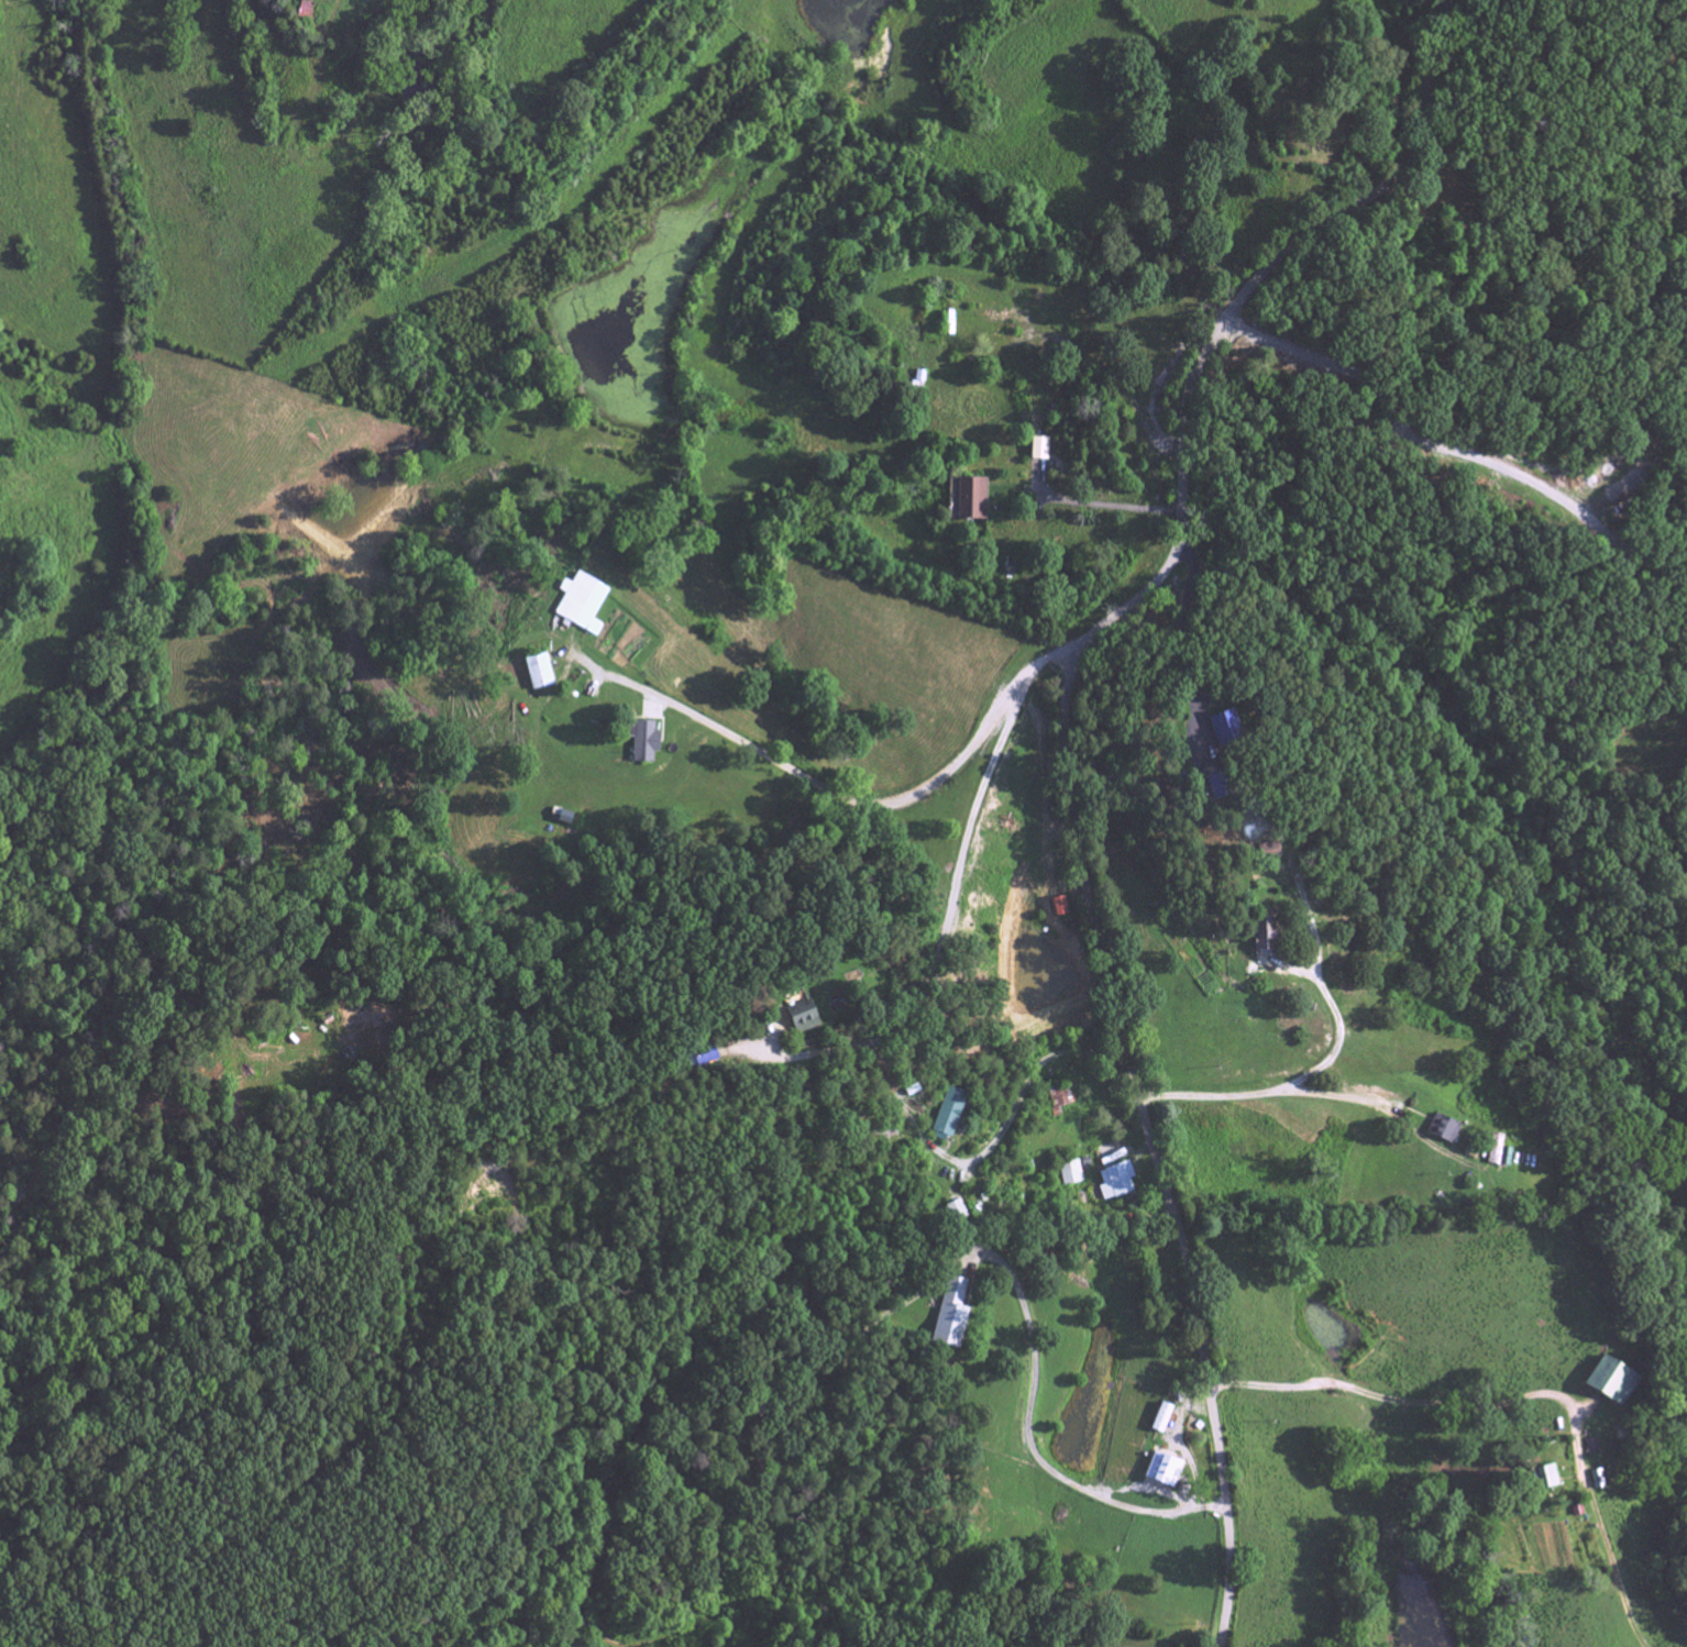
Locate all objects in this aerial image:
building: (1041, 451)
road: (1453, 452)
road: (1113, 493)
building: (970, 501)
building: (581, 608)
road: (1176, 631)
building: (1212, 723)
building: (643, 743)
road: (1069, 762)
road: (875, 805)
road: (945, 884)
building: (1057, 908)
building: (1260, 937)
building: (794, 1020)
road: (1336, 1025)
building: (696, 1061)
road: (1259, 1092)
building: (1062, 1102)
building: (950, 1114)
building: (1442, 1131)
building: (1496, 1154)
road: (962, 1162)
building: (1072, 1174)
building: (1114, 1183)
building: (948, 1316)
building: (1609, 1384)
road: (1366, 1404)
building: (1157, 1421)
road: (1025, 1440)
building: (1158, 1473)
building: (1544, 1479)

